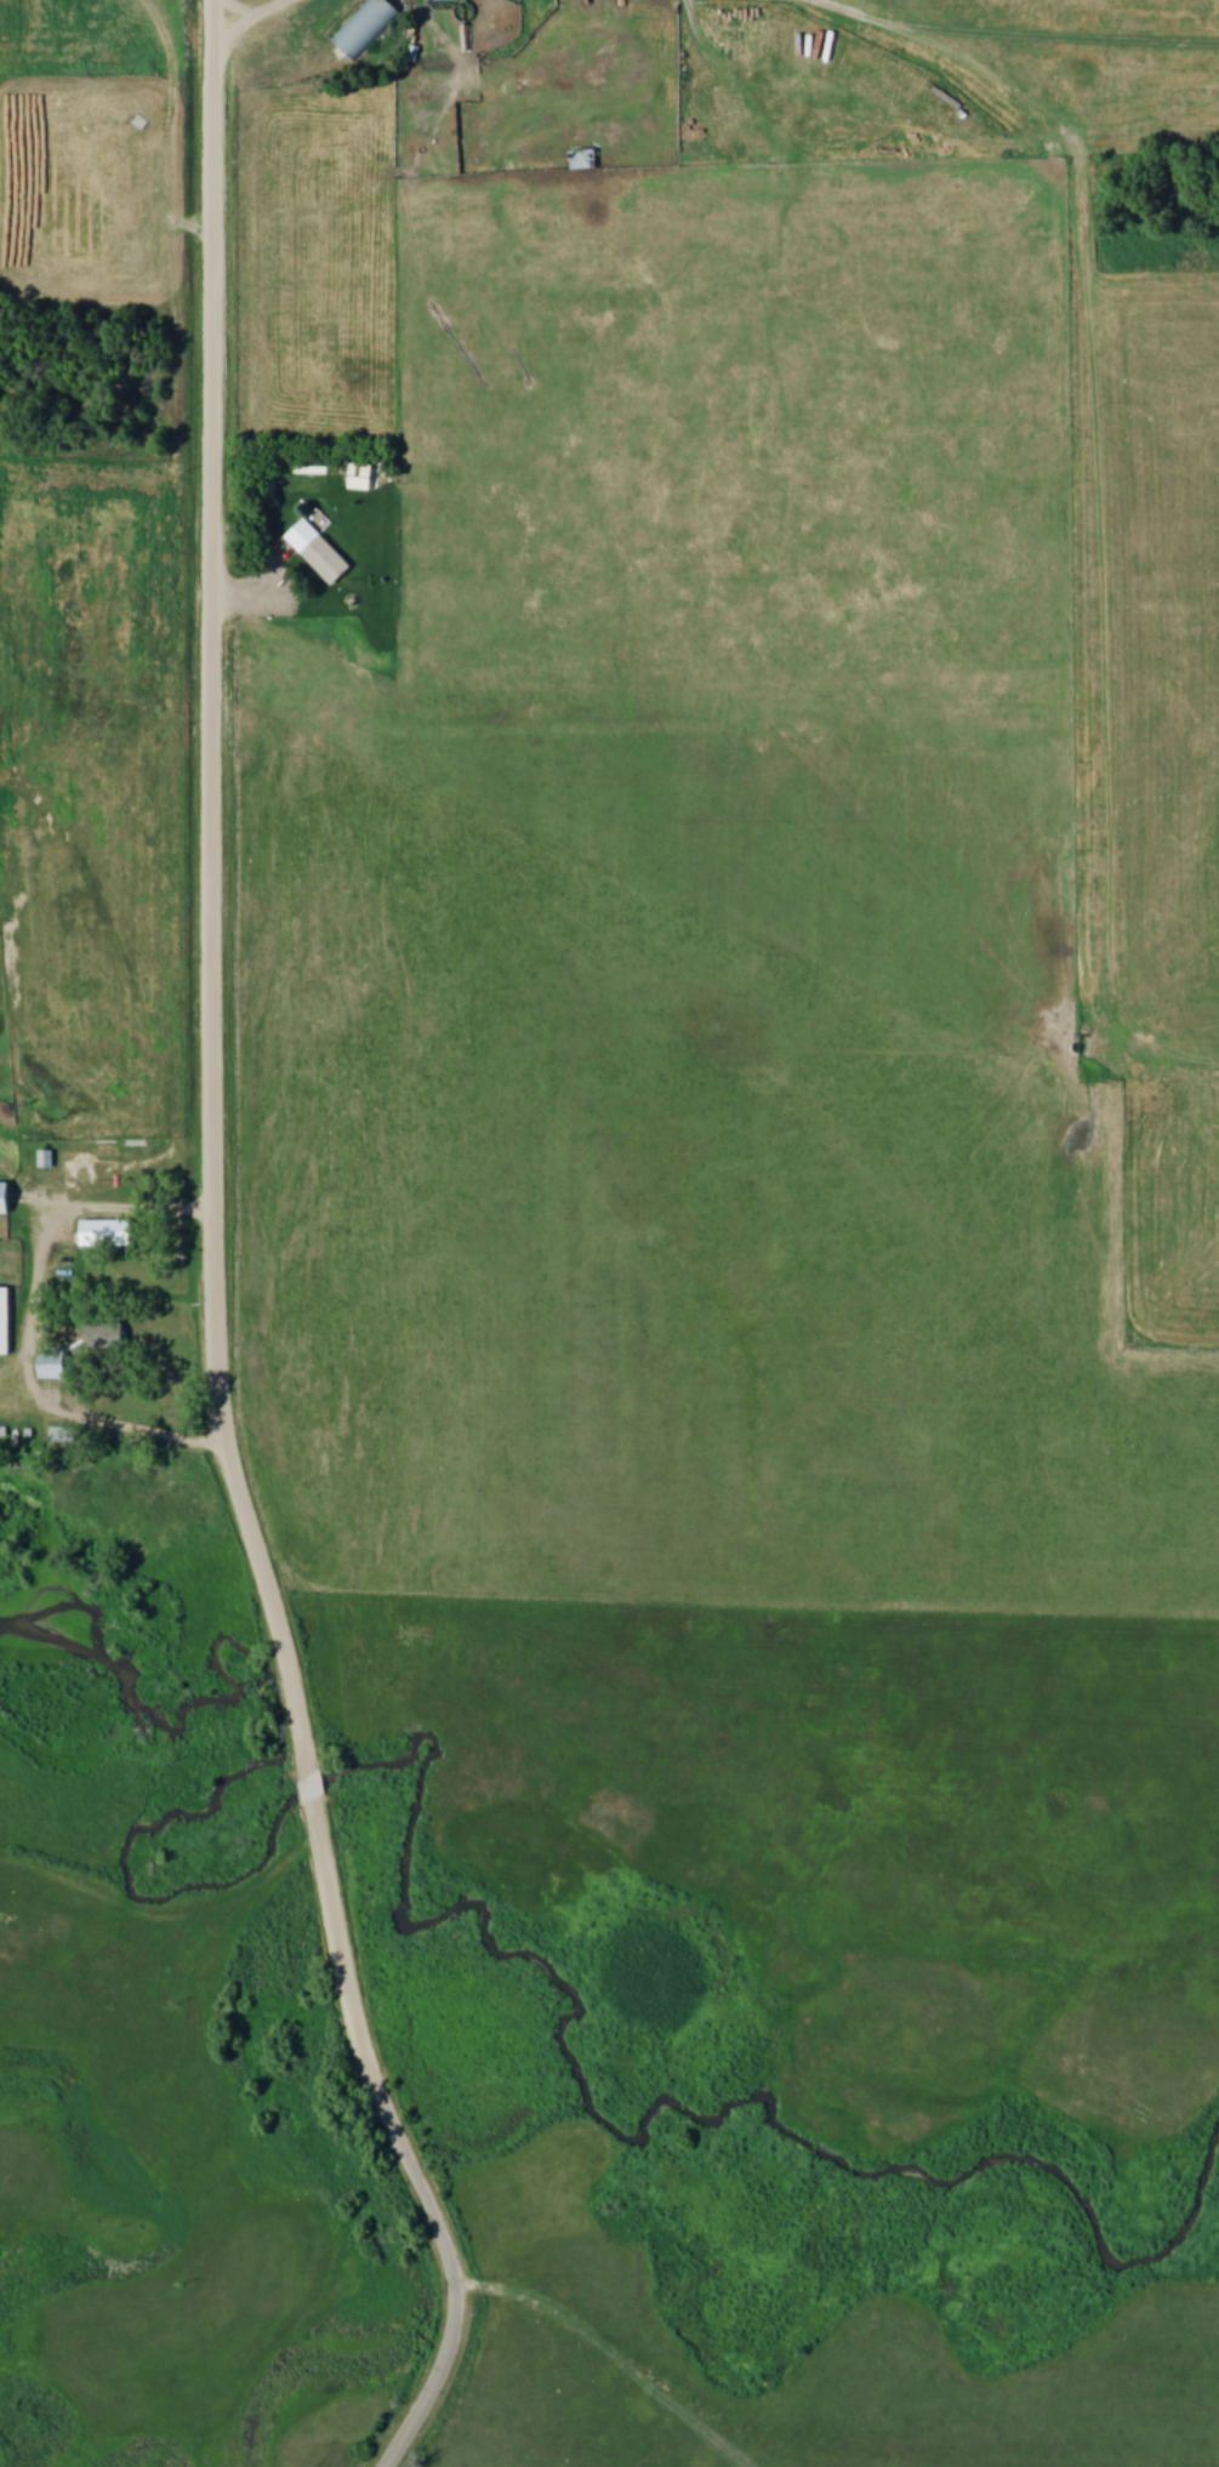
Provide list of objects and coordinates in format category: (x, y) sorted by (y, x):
building: (448, 0)
road: (254, 12)
building: (366, 28)
building: (583, 161)
building: (320, 554)
road: (213, 1059)
building: (5, 1198)
building: (107, 1232)
building: (5, 1322)
road: (32, 1328)
building: (106, 1337)
building: (52, 1366)
building: (62, 1436)
road: (455, 2285)

